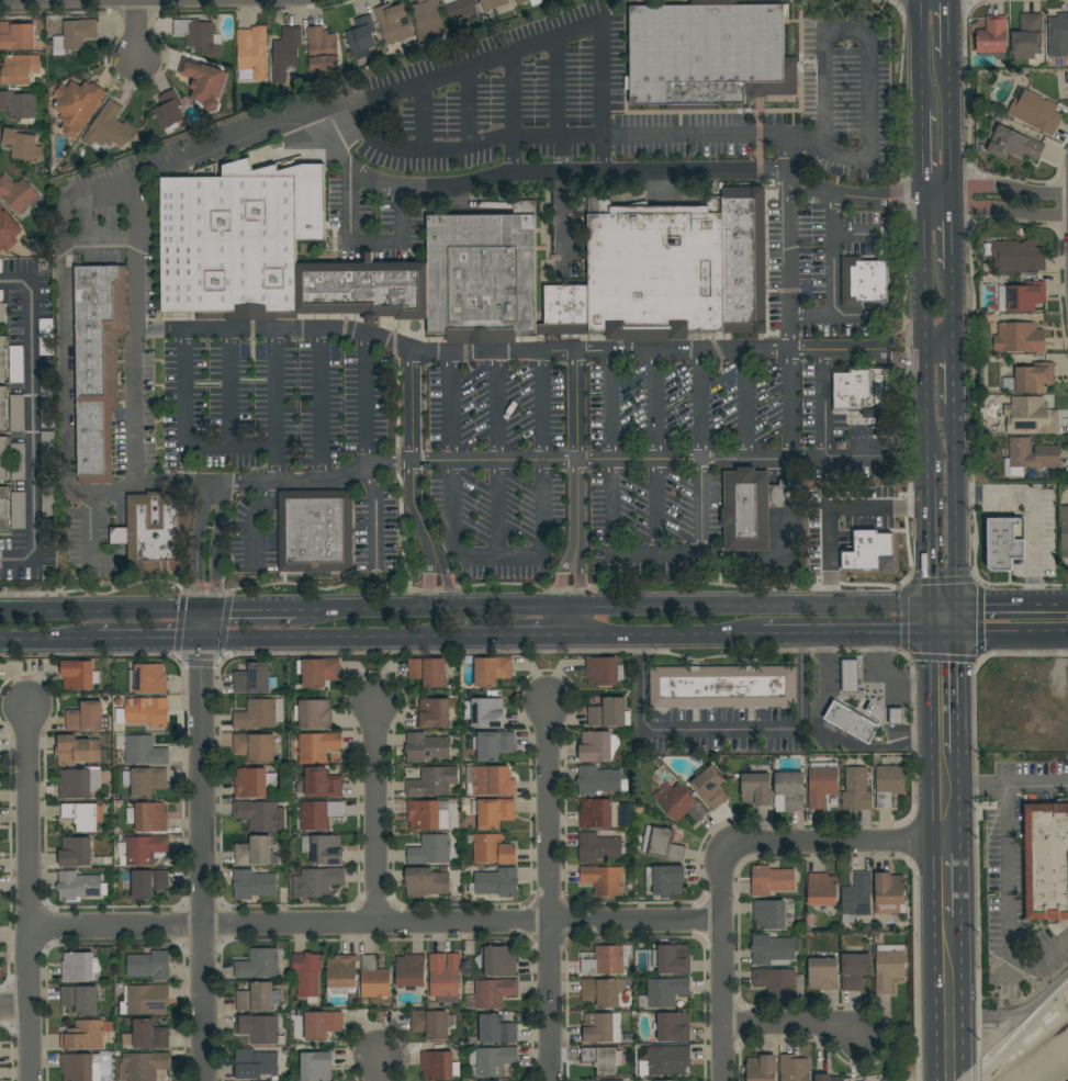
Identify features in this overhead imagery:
building: (519, 1)
building: (536, 2)
building: (492, 4)
building: (460, 8)
road: (59, 11)
road: (132, 11)
road: (245, 12)
building: (427, 19)
building: (393, 23)
road: (952, 26)
road: (137, 31)
building: (18, 35)
building: (74, 35)
building: (198, 35)
building: (361, 35)
building: (992, 35)
building: (1057, 35)
building: (1027, 37)
building: (322, 49)
building: (285, 53)
building: (707, 54)
road: (872, 55)
building: (250, 56)
road: (919, 56)
road: (505, 57)
building: (18, 70)
building: (203, 82)
road: (136, 86)
road: (554, 90)
road: (510, 98)
building: (19, 105)
building: (77, 105)
road: (465, 109)
building: (1035, 111)
building: (169, 112)
road: (421, 117)
road: (953, 121)
building: (108, 130)
road: (341, 132)
road: (557, 138)
road: (698, 138)
building: (1013, 144)
building: (23, 146)
road: (419, 150)
road: (603, 156)
road: (511, 157)
road: (791, 158)
road: (920, 162)
road: (651, 172)
road: (144, 174)
road: (1032, 182)
road: (994, 185)
road: (787, 193)
building: (19, 195)
building: (0, 207)
road: (996, 209)
building: (3, 225)
road: (955, 229)
road: (856, 233)
road: (364, 245)
building: (229, 247)
road: (1058, 250)
building: (1015, 256)
building: (743, 259)
building: (1, 266)
building: (654, 270)
building: (482, 275)
road: (832, 277)
building: (863, 281)
building: (364, 289)
building: (1025, 296)
building: (566, 305)
building: (2, 309)
road: (956, 311)
road: (854, 315)
building: (562, 329)
road: (203, 330)
road: (344, 330)
road: (969, 331)
road: (922, 334)
building: (46, 337)
building: (1019, 338)
road: (65, 346)
road: (751, 348)
road: (940, 348)
road: (443, 352)
building: (3, 359)
building: (15, 364)
building: (98, 365)
road: (957, 376)
building: (1030, 379)
building: (46, 383)
building: (864, 390)
road: (364, 402)
road: (701, 403)
road: (321, 404)
road: (655, 404)
road: (747, 404)
road: (789, 404)
road: (271, 405)
road: (495, 405)
road: (540, 405)
road: (446, 406)
building: (3, 409)
road: (184, 409)
road: (226, 410)
building: (16, 413)
building: (1031, 416)
road: (31, 421)
building: (47, 449)
road: (850, 455)
building: (1028, 457)
road: (580, 458)
building: (3, 459)
road: (418, 460)
road: (641, 460)
road: (822, 460)
building: (18, 461)
road: (186, 466)
road: (925, 474)
road: (316, 478)
building: (48, 497)
road: (959, 506)
road: (656, 508)
building: (752, 508)
building: (4, 509)
road: (497, 509)
building: (18, 510)
road: (1032, 515)
road: (372, 520)
road: (251, 522)
building: (157, 531)
building: (315, 531)
building: (1064, 531)
building: (120, 536)
road: (87, 540)
road: (200, 540)
road: (214, 540)
building: (1005, 542)
road: (611, 548)
building: (867, 548)
road: (926, 549)
road: (499, 559)
road: (765, 564)
road: (564, 576)
road: (575, 578)
road: (979, 582)
road: (176, 584)
road: (205, 588)
road: (857, 588)
road: (85, 589)
road: (194, 589)
road: (216, 589)
road: (204, 603)
road: (1013, 606)
traffic signals: (928, 608)
road: (944, 608)
traffic signals: (960, 608)
road: (611, 609)
road: (567, 612)
road: (101, 615)
road: (249, 615)
traffic signals: (234, 616)
traffic signals: (203, 617)
road: (928, 622)
road: (960, 622)
road: (666, 635)
road: (863, 635)
road: (1014, 635)
traffic signals: (929, 637)
traffic signals: (962, 637)
road: (515, 638)
road: (334, 640)
traffic signals: (204, 641)
road: (150, 642)
traffic signals: (171, 642)
road: (48, 643)
road: (876, 655)
road: (199, 661)
traffic signals: (203, 668)
building: (428, 671)
building: (492, 671)
building: (602, 671)
building: (319, 672)
road: (882, 674)
building: (79, 675)
road: (834, 675)
building: (850, 675)
road: (850, 675)
building: (148, 678)
building: (255, 679)
building: (723, 687)
road: (901, 687)
road: (963, 694)
gas station: (861, 702)
building: (147, 712)
building: (435, 712)
building: (485, 712)
building: (610, 712)
building: (260, 714)
building: (314, 714)
building: (896, 716)
road: (896, 716)
building: (86, 717)
road: (814, 721)
building: (851, 721)
road: (720, 730)
building: (493, 744)
building: (317, 746)
building: (597, 746)
building: (255, 747)
building: (426, 747)
road: (901, 747)
building: (79, 751)
building: (144, 751)
building: (597, 780)
building: (145, 781)
building: (432, 781)
building: (491, 781)
building: (78, 782)
building: (254, 782)
building: (889, 782)
building: (322, 784)
building: (710, 786)
building: (821, 786)
road: (1015, 786)
building: (756, 789)
building: (856, 790)
building: (789, 791)
road: (964, 796)
building: (678, 802)
road: (378, 812)
building: (493, 812)
building: (602, 813)
building: (260, 814)
building: (318, 814)
building: (424, 814)
building: (83, 815)
building: (148, 817)
road: (844, 841)
building: (661, 843)
building: (599, 847)
road: (203, 848)
building: (324, 848)
building: (142, 849)
building: (493, 849)
building: (430, 851)
building: (76, 852)
building: (255, 852)
road: (932, 858)
building: (1046, 860)
road: (966, 877)
building: (603, 879)
building: (665, 879)
building: (772, 880)
building: (318, 881)
building: (426, 882)
building: (496, 882)
building: (148, 883)
building: (254, 885)
building: (78, 886)
building: (822, 889)
road: (549, 890)
road: (29, 892)
building: (890, 894)
building: (857, 897)
building: (769, 914)
road: (1007, 917)
road: (375, 924)
building: (772, 950)
building: (672, 959)
building: (498, 960)
building: (605, 961)
building: (258, 964)
road: (722, 965)
building: (150, 966)
building: (79, 967)
building: (889, 967)
building: (411, 970)
building: (855, 970)
building: (823, 973)
building: (307, 975)
building: (342, 975)
building: (445, 977)
building: (375, 981)
building: (779, 982)
road: (969, 987)
building: (600, 992)
building: (664, 992)
building: (494, 993)
building: (256, 998)
building: (81, 999)
building: (148, 1000)
building: (432, 1005)
road: (14, 1007)
road: (1024, 1007)
building: (430, 1024)
building: (323, 1025)
road: (795, 1025)
building: (673, 1027)
building: (258, 1028)
building: (600, 1028)
building: (496, 1029)
building: (86, 1035)
road: (1023, 1035)
building: (147, 1036)
building: (603, 1058)
building: (668, 1060)
building: (492, 1061)
building: (255, 1063)
building: (143, 1066)
building: (316, 1066)
building: (439, 1066)
building: (77, 1067)
road: (379, 1068)
building: (762, 1068)
building: (795, 1068)
road: (971, 1069)
building: (828, 1078)
road: (934, 1079)
building: (616, 1080)
building: (668, 1080)

